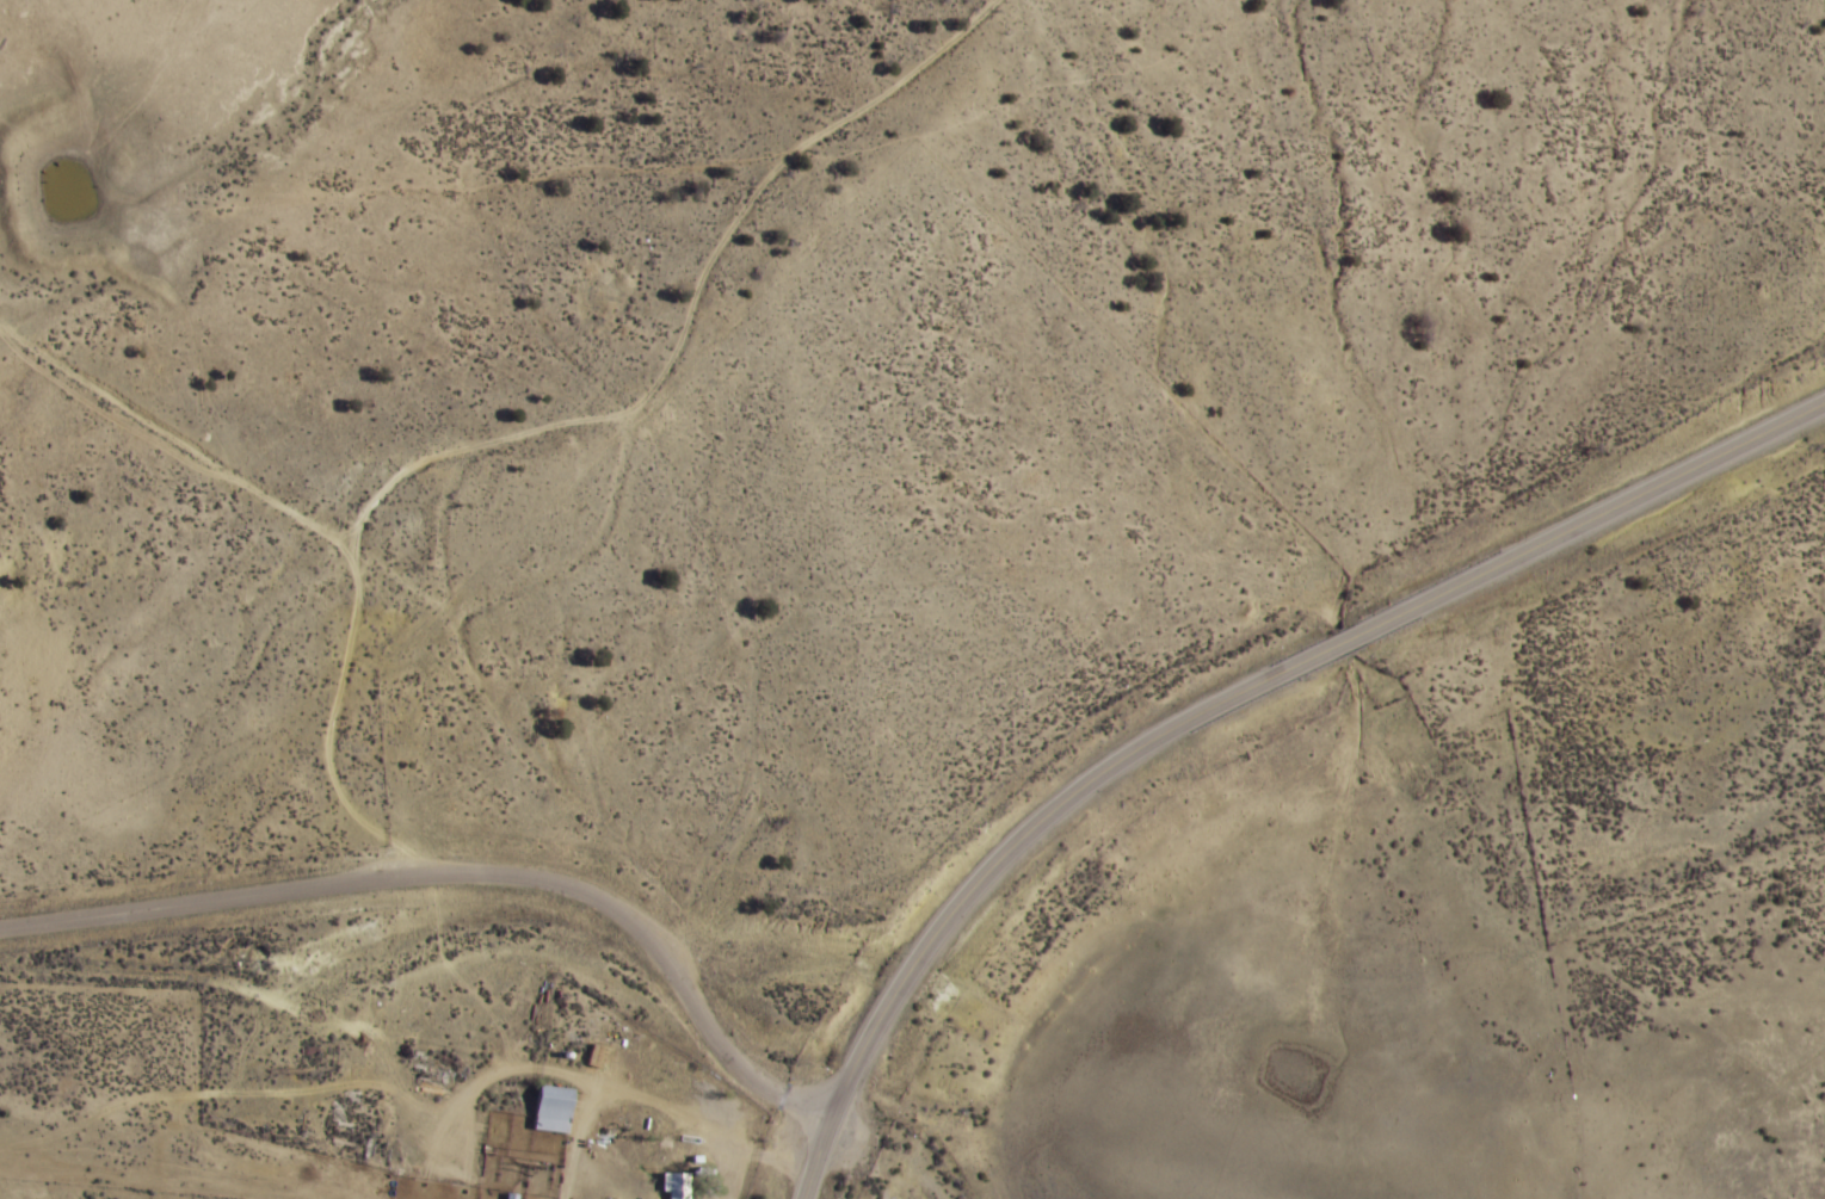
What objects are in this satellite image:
road: (736, 325)
road: (1226, 705)
airport runway: (1713, 827)
road: (224, 891)
road: (664, 956)
building: (550, 1108)
building: (672, 1185)

